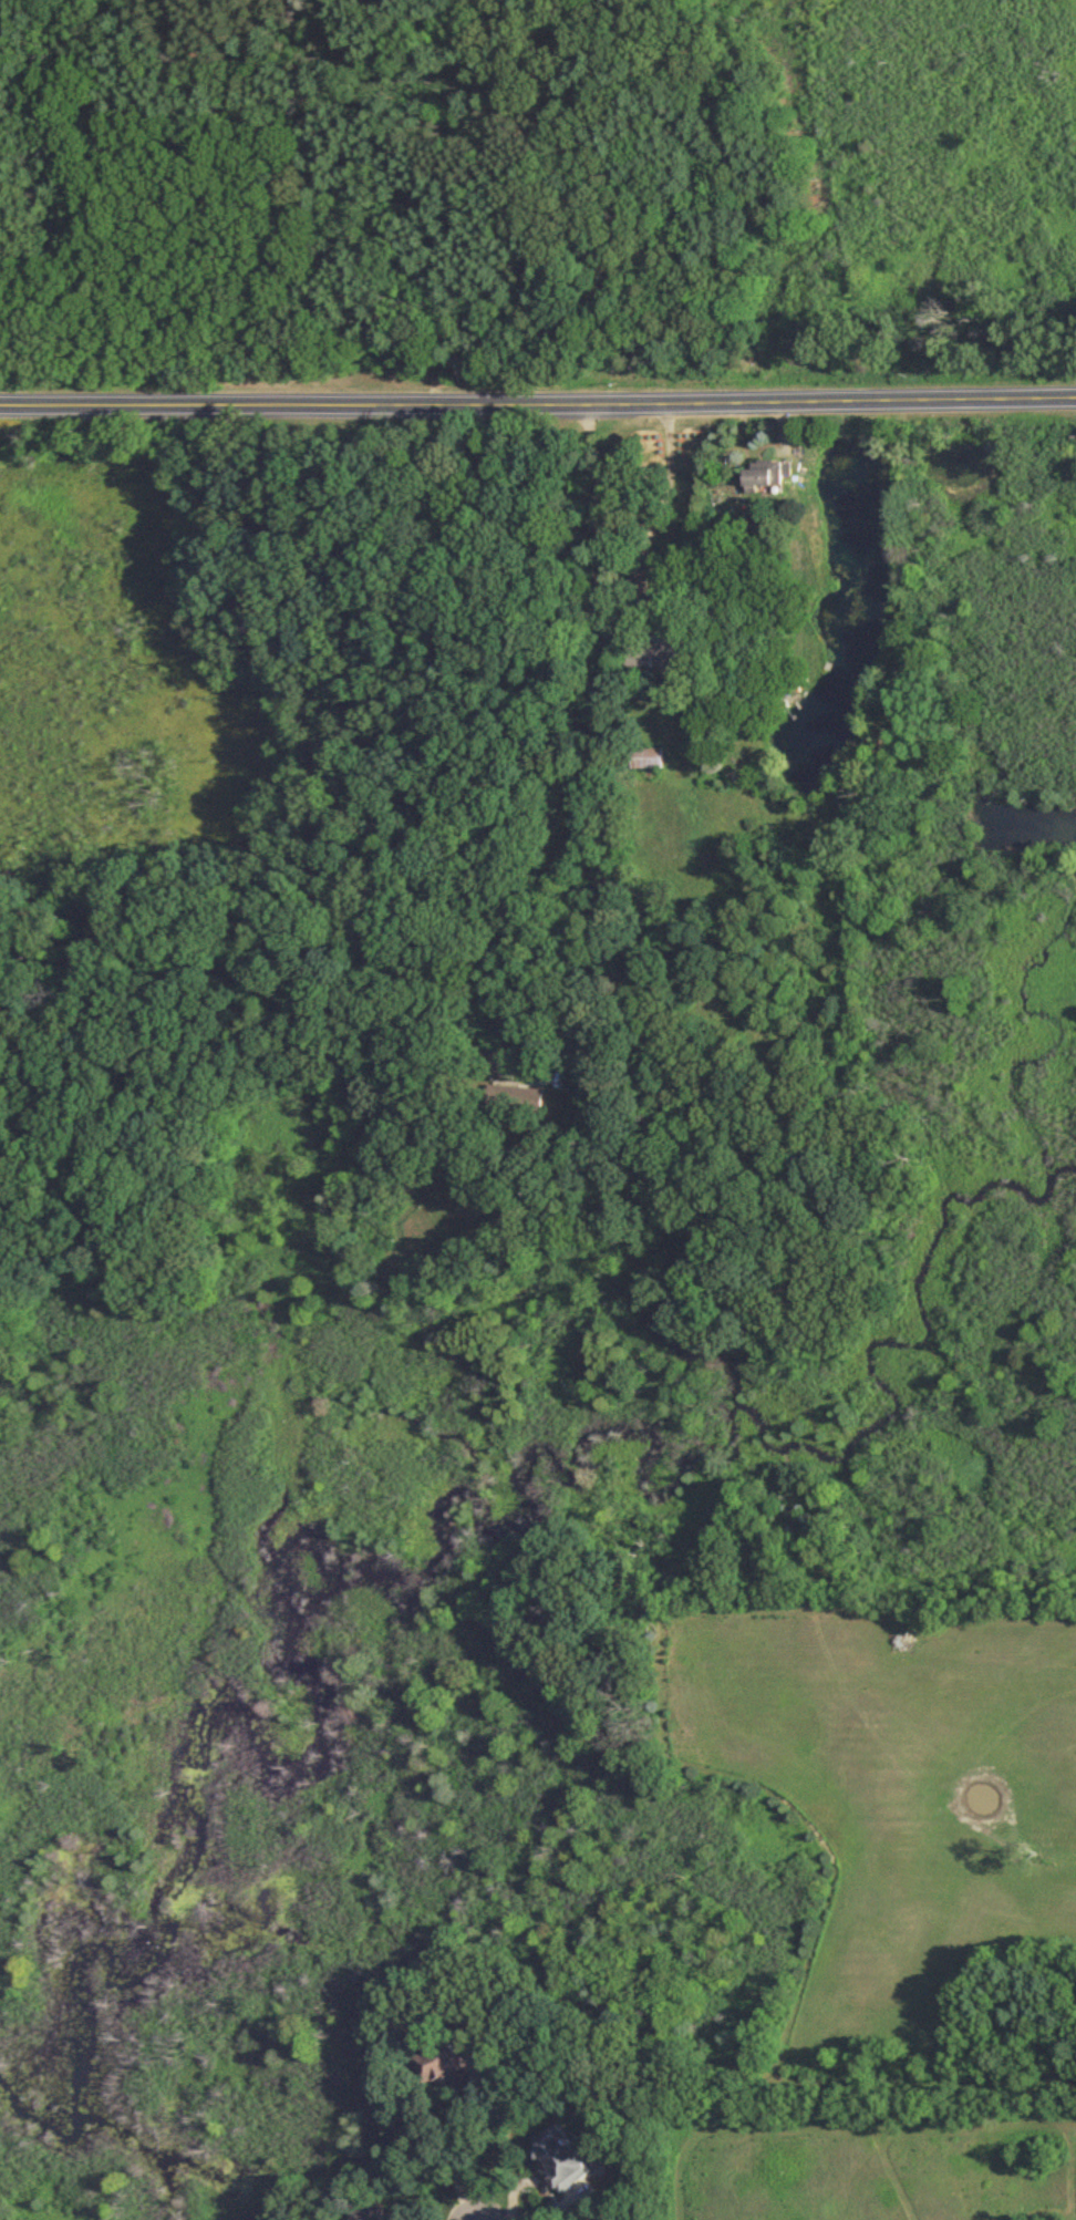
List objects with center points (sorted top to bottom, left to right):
road: (538, 395)
building: (767, 472)
road: (663, 496)
road: (608, 737)
road: (470, 2139)
building: (563, 2157)
road: (541, 2211)
road: (507, 2213)
building: (370, 2214)

